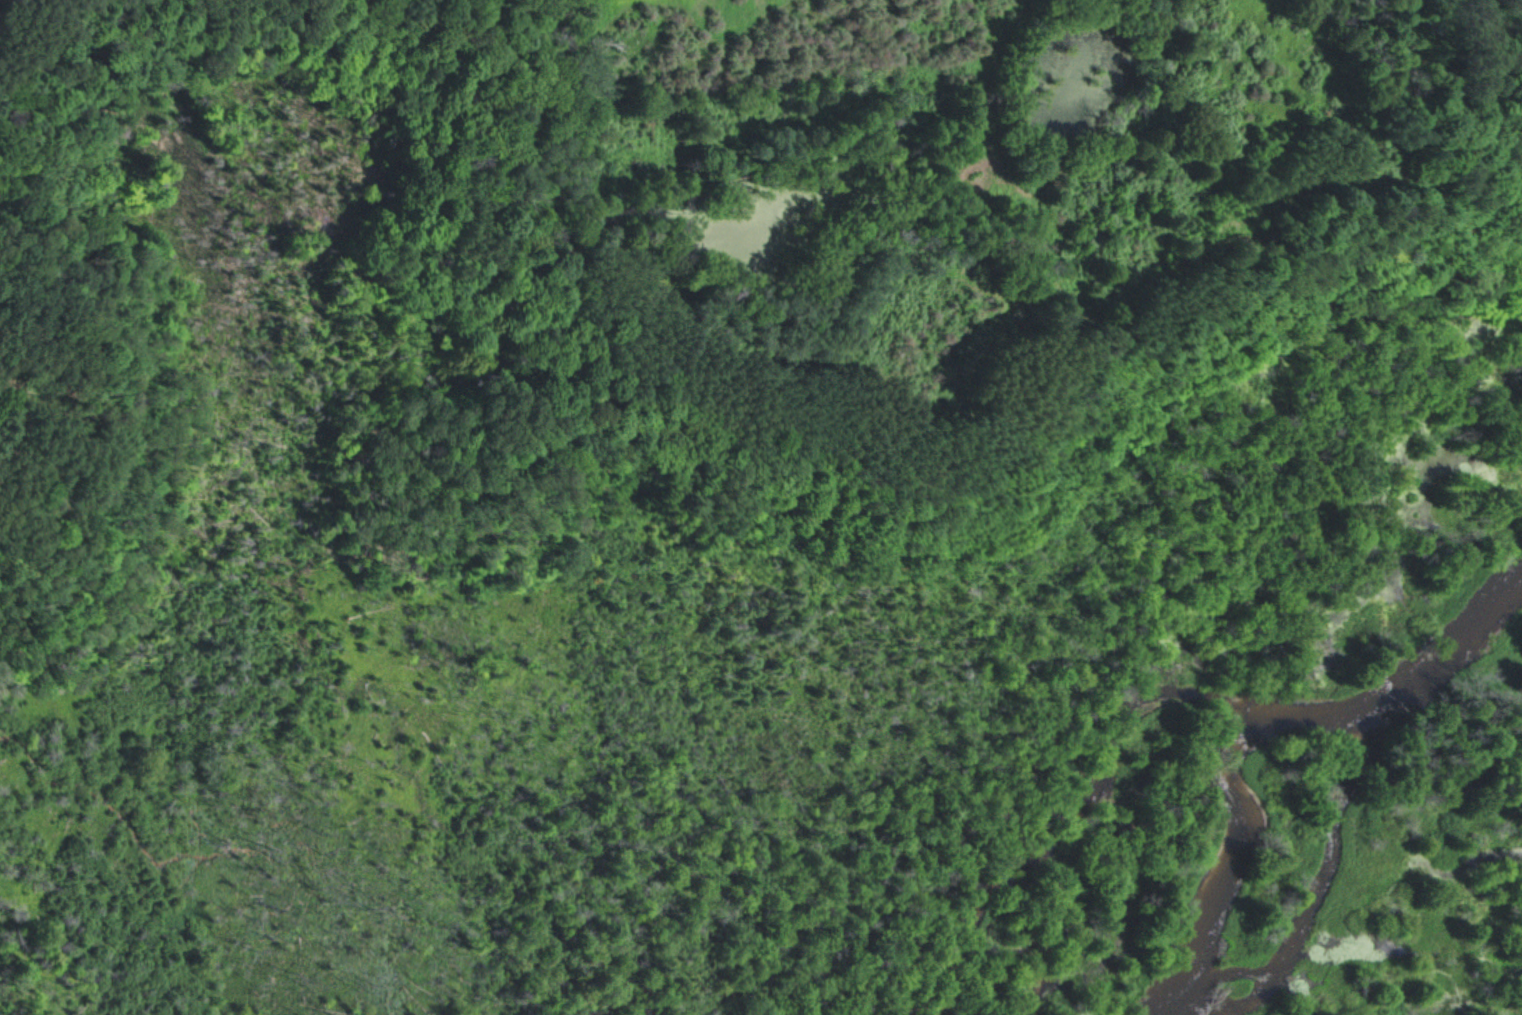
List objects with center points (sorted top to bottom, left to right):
river: (1243, 730)

